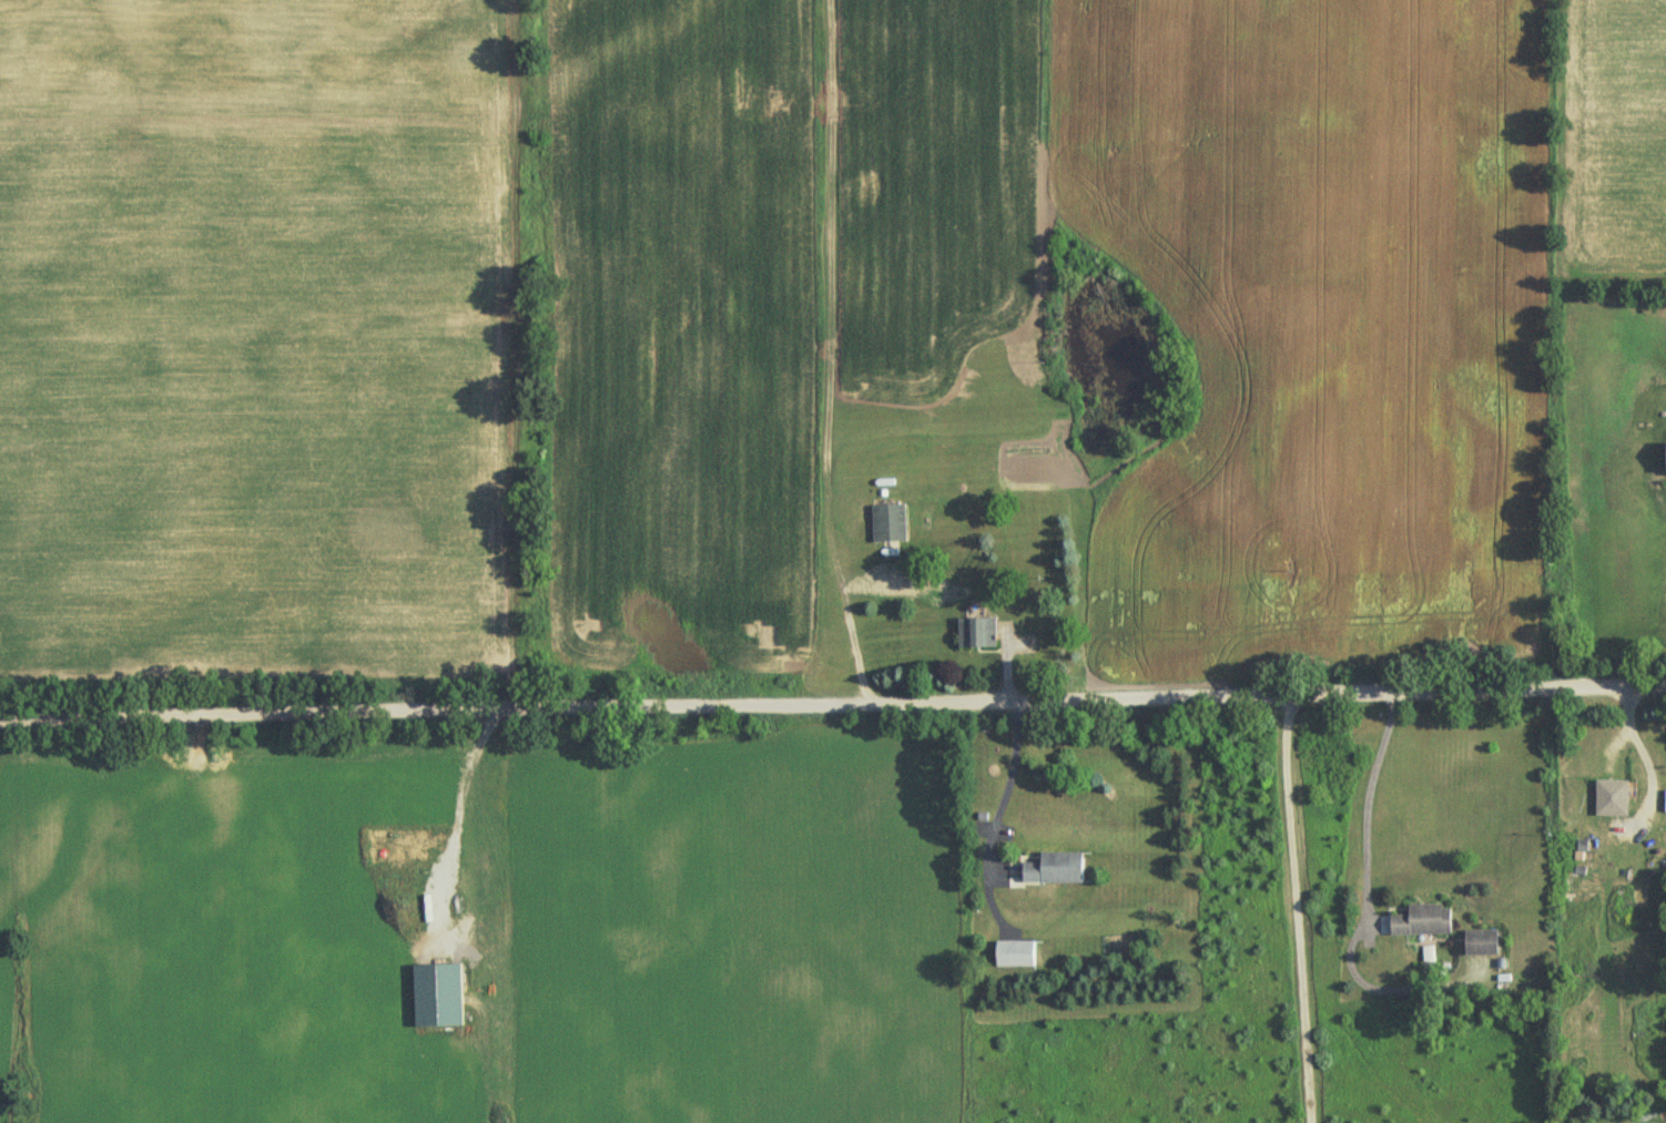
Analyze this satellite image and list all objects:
crop: (1613, 140)
crop: (1233, 302)
airport runway: (1260, 321)
crop: (679, 327)
crop: (253, 335)
road: (827, 355)
building: (881, 530)
building: (971, 641)
road: (1003, 666)
road: (833, 704)
road: (1003, 784)
building: (1609, 796)
road: (1367, 807)
road: (453, 828)
building: (1055, 867)
road: (1297, 908)
building: (1421, 919)
crop: (217, 933)
crop: (729, 933)
building: (1479, 939)
building: (1014, 951)
building: (435, 997)

